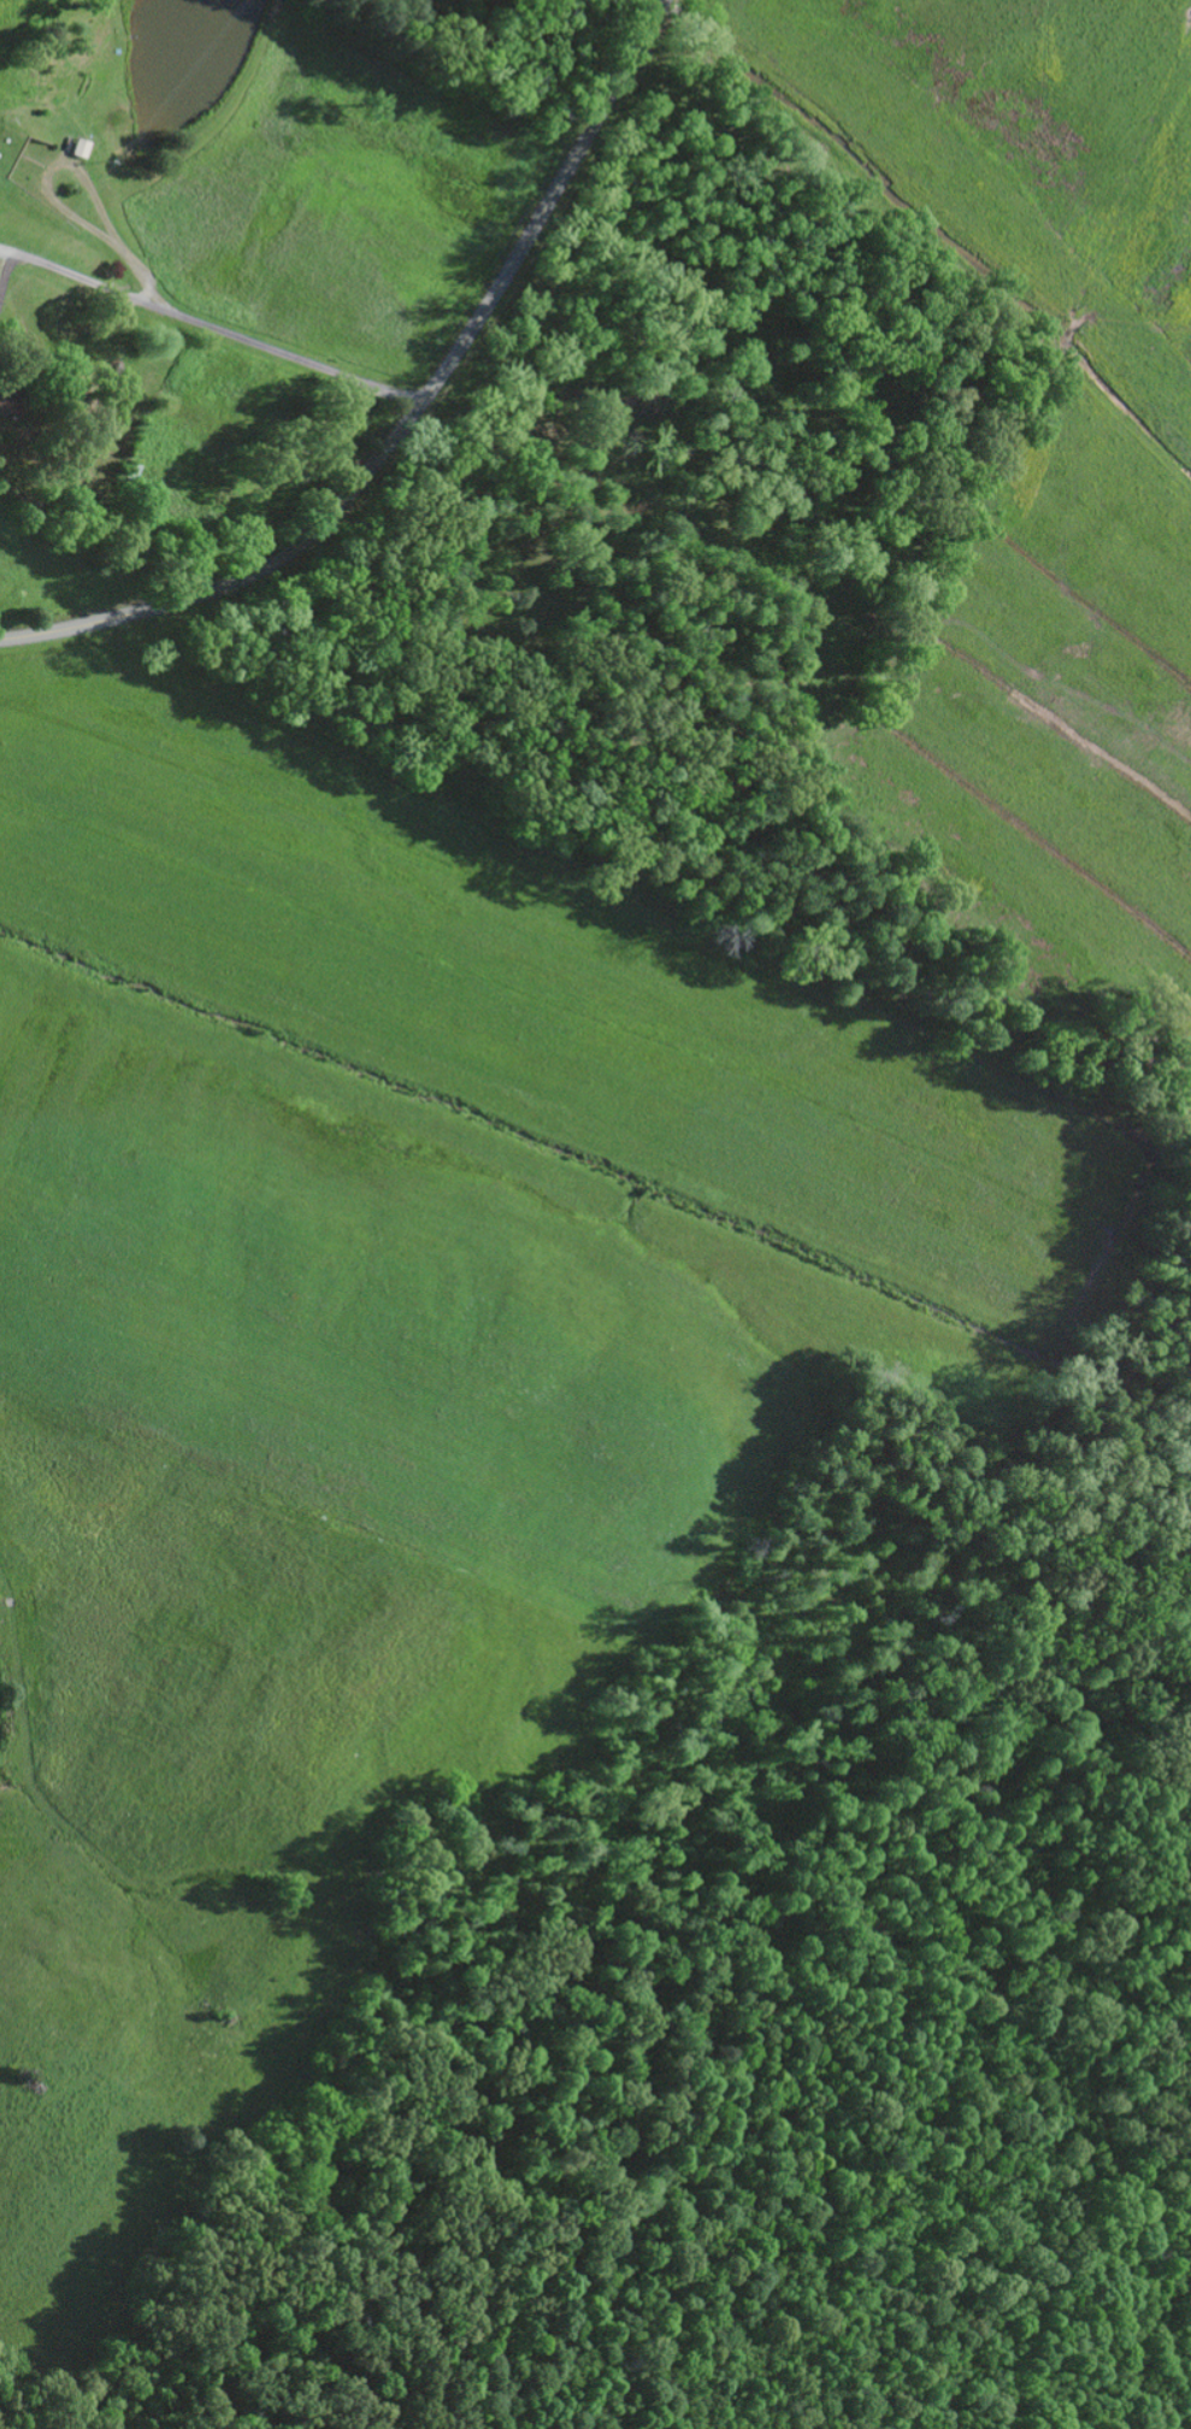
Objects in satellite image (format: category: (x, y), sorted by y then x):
road: (212, 324)
building: (8, 400)
road: (407, 414)
building: (130, 469)

